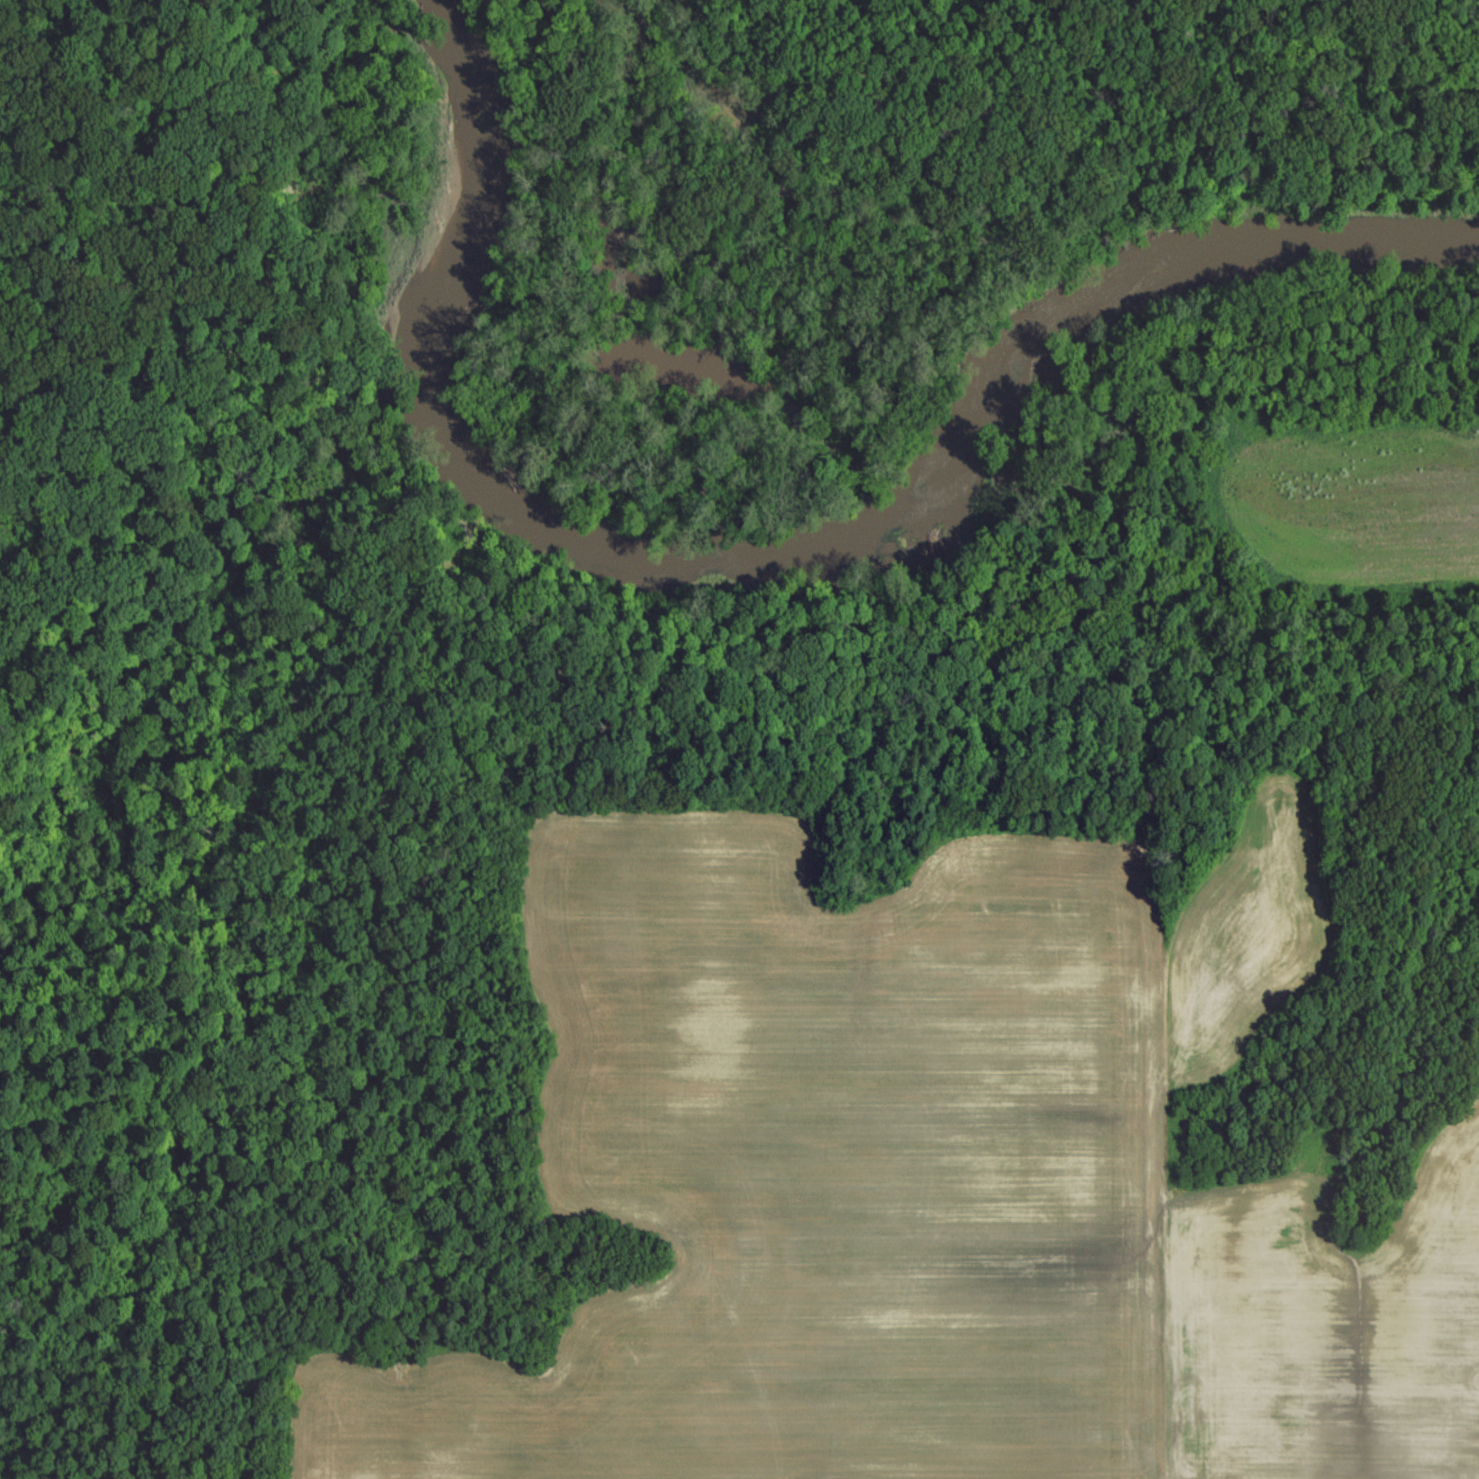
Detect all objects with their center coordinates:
river: (779, 568)

